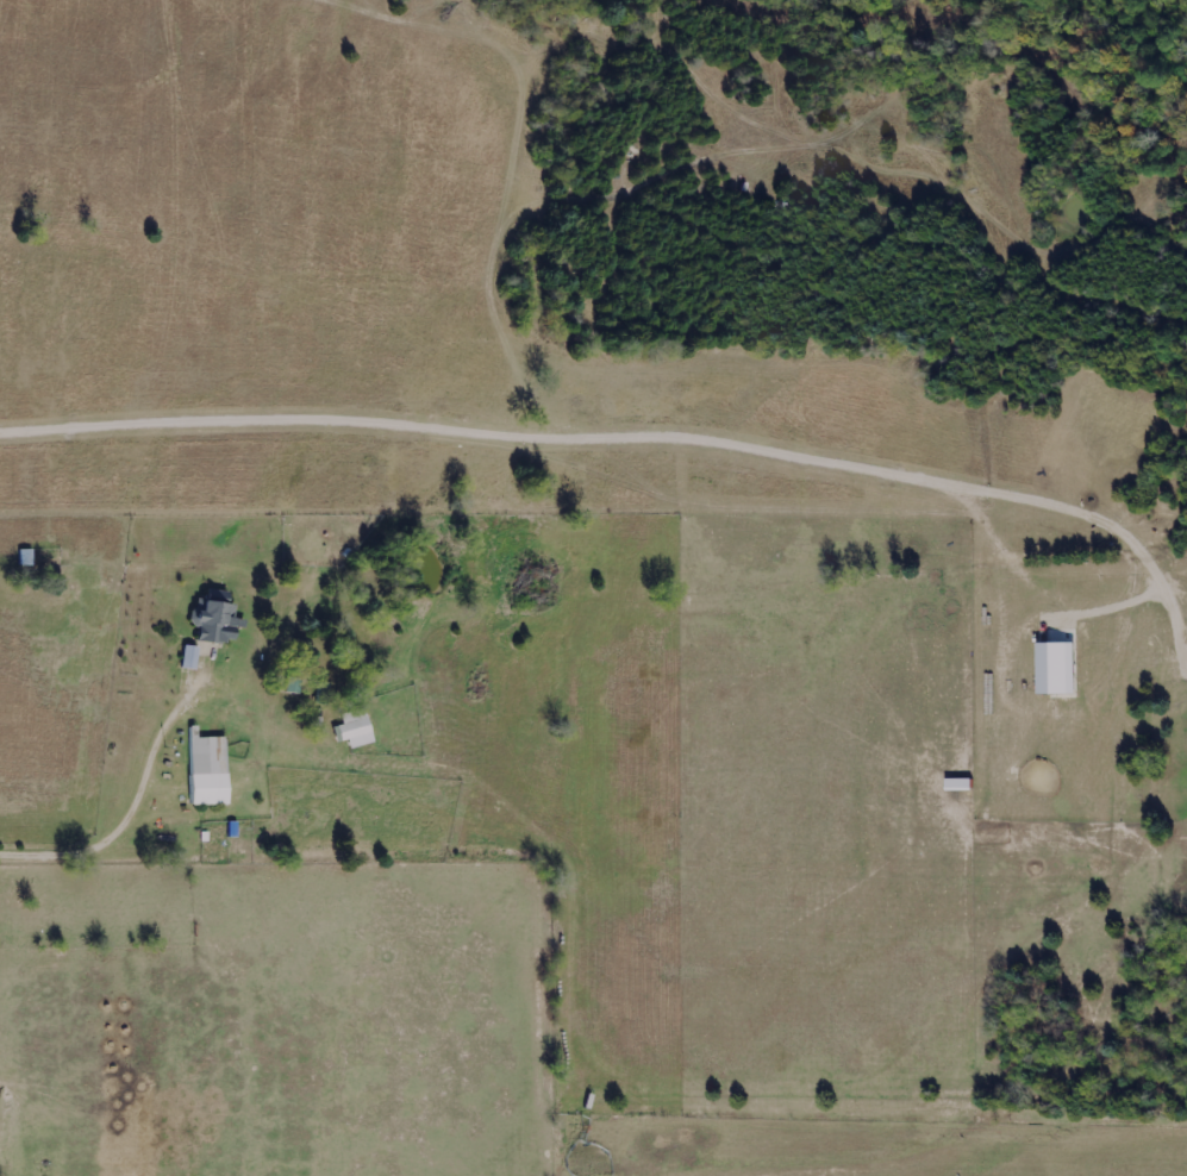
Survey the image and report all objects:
building: (218, 623)
building: (192, 657)
building: (1060, 669)
building: (355, 728)
building: (211, 770)
road: (133, 811)

